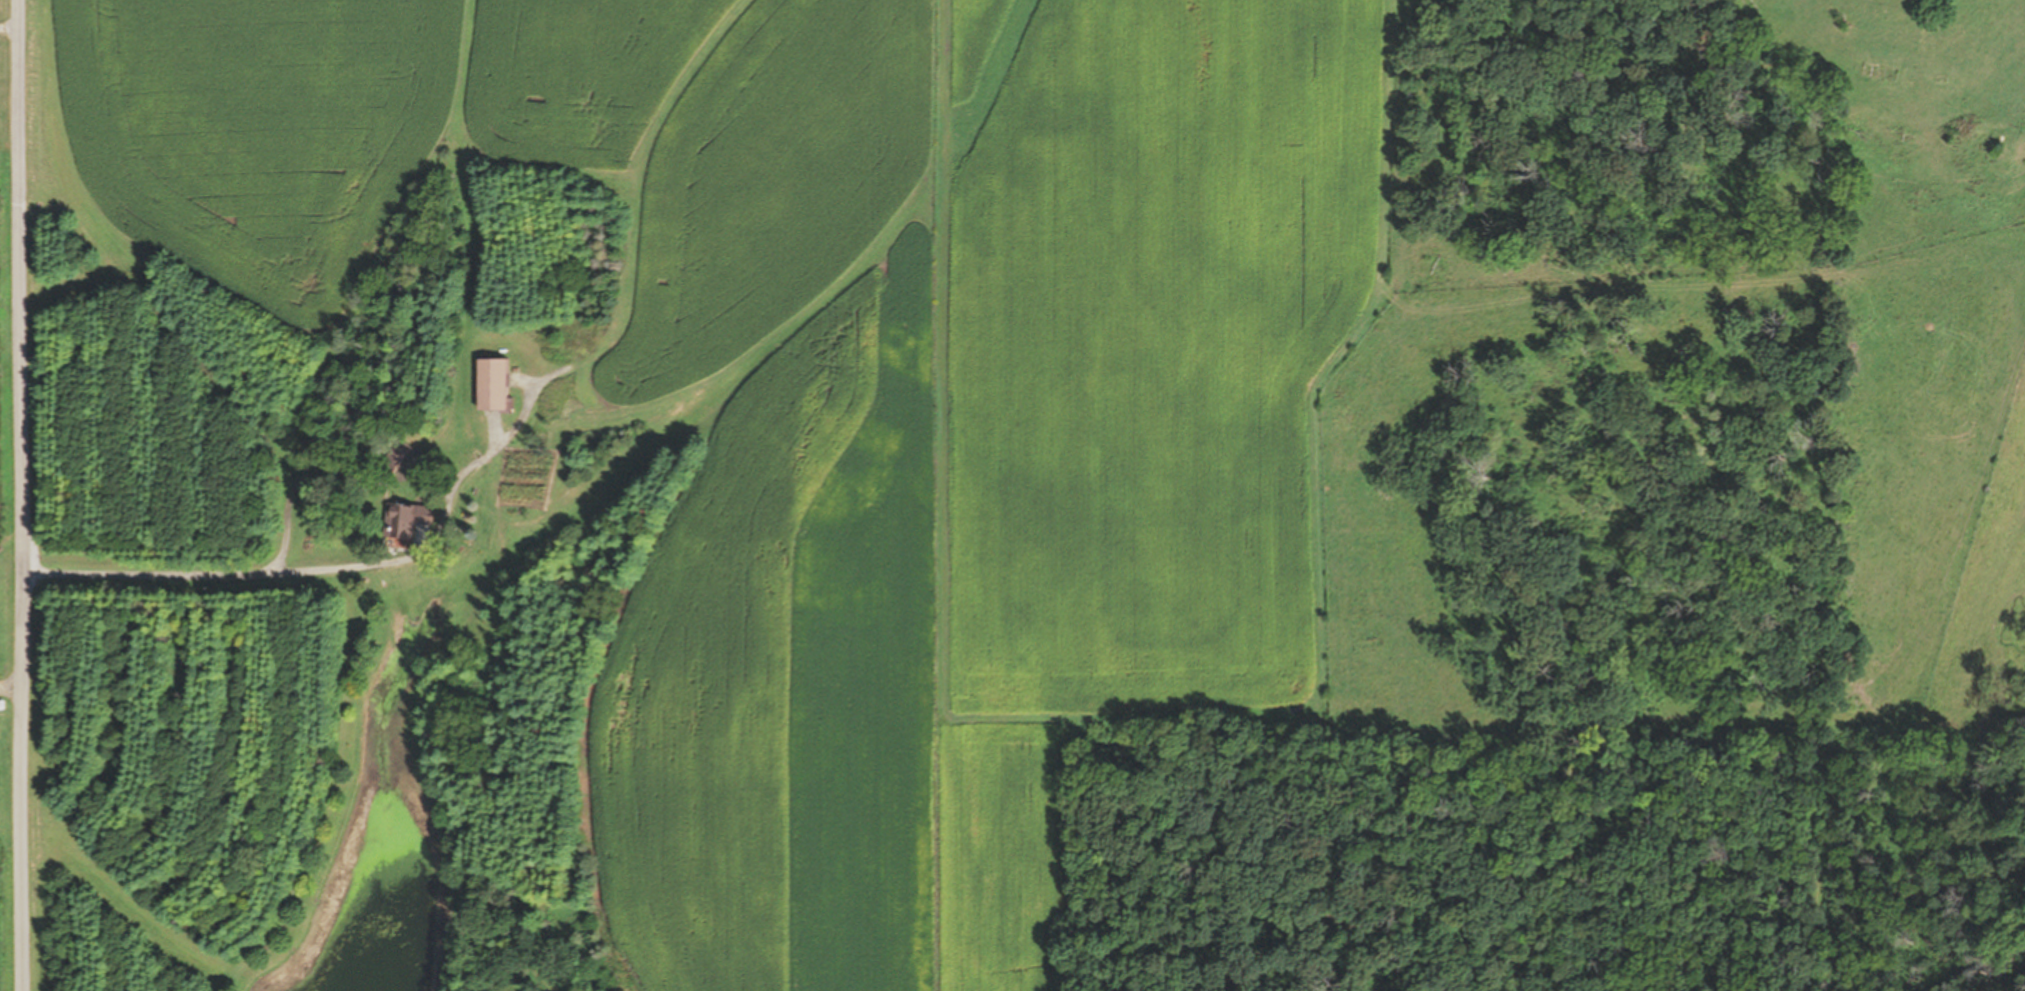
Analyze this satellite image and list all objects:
road: (9, 28)
park: (9, 59)
building: (490, 382)
building: (395, 455)
road: (28, 495)
building: (405, 517)
road: (227, 576)

